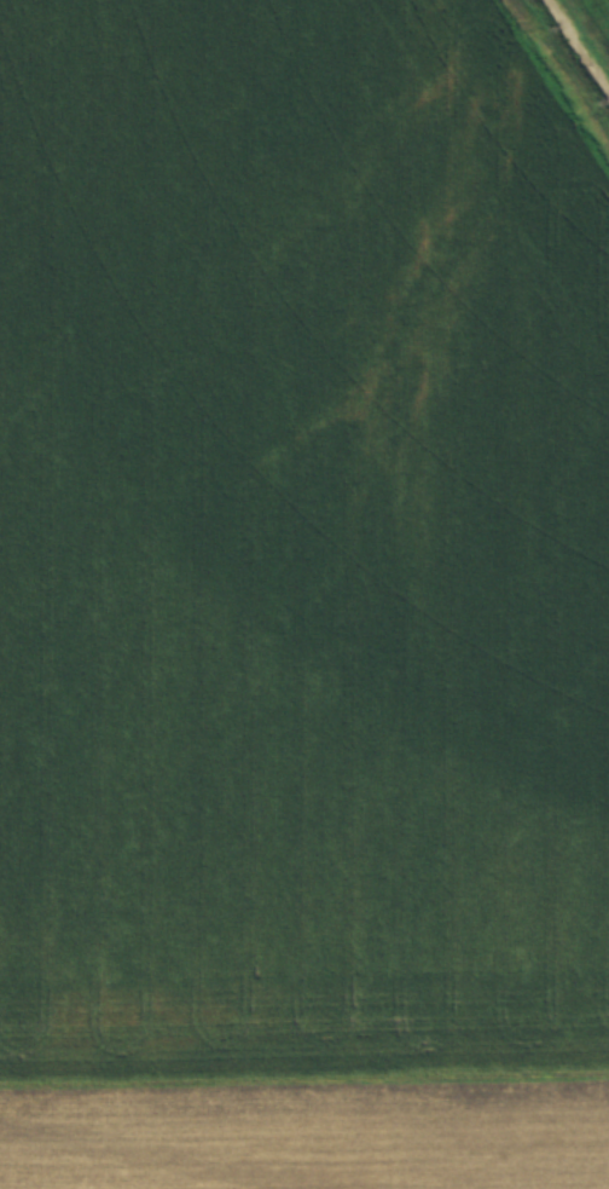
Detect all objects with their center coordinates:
river: (599, 13)

